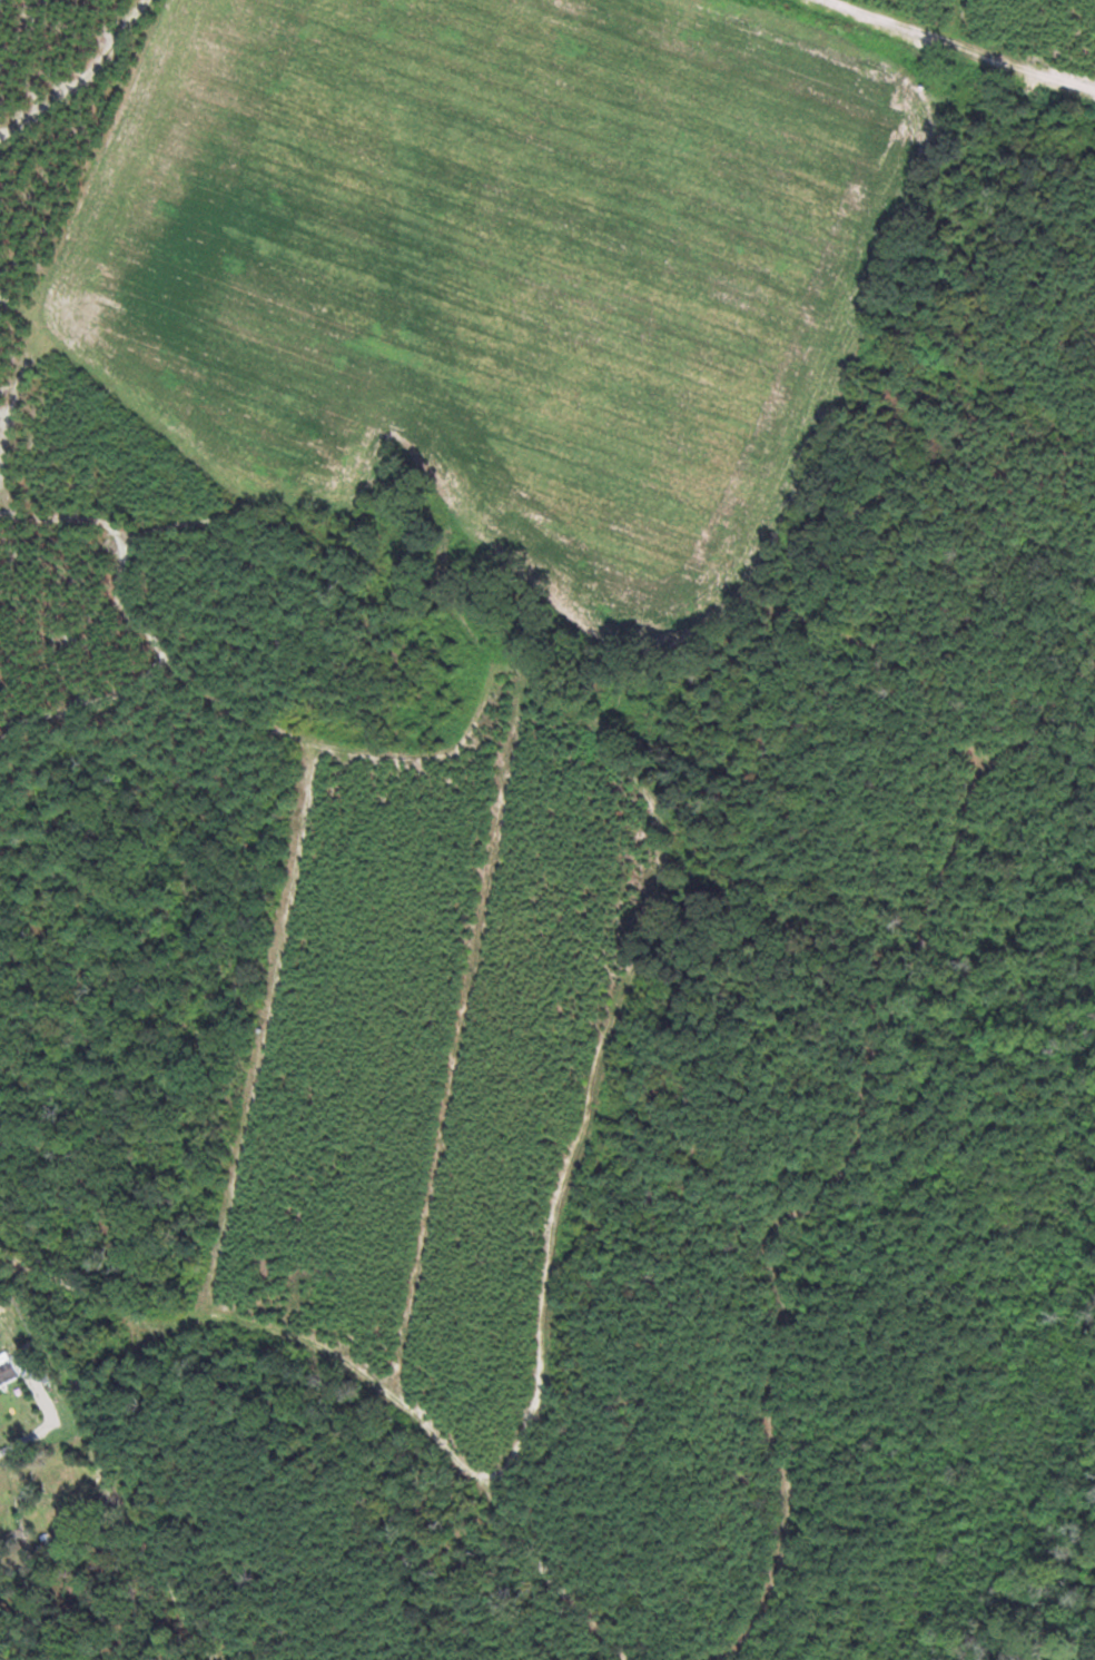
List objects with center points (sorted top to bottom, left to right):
building: (9, 1371)
road: (47, 1425)

